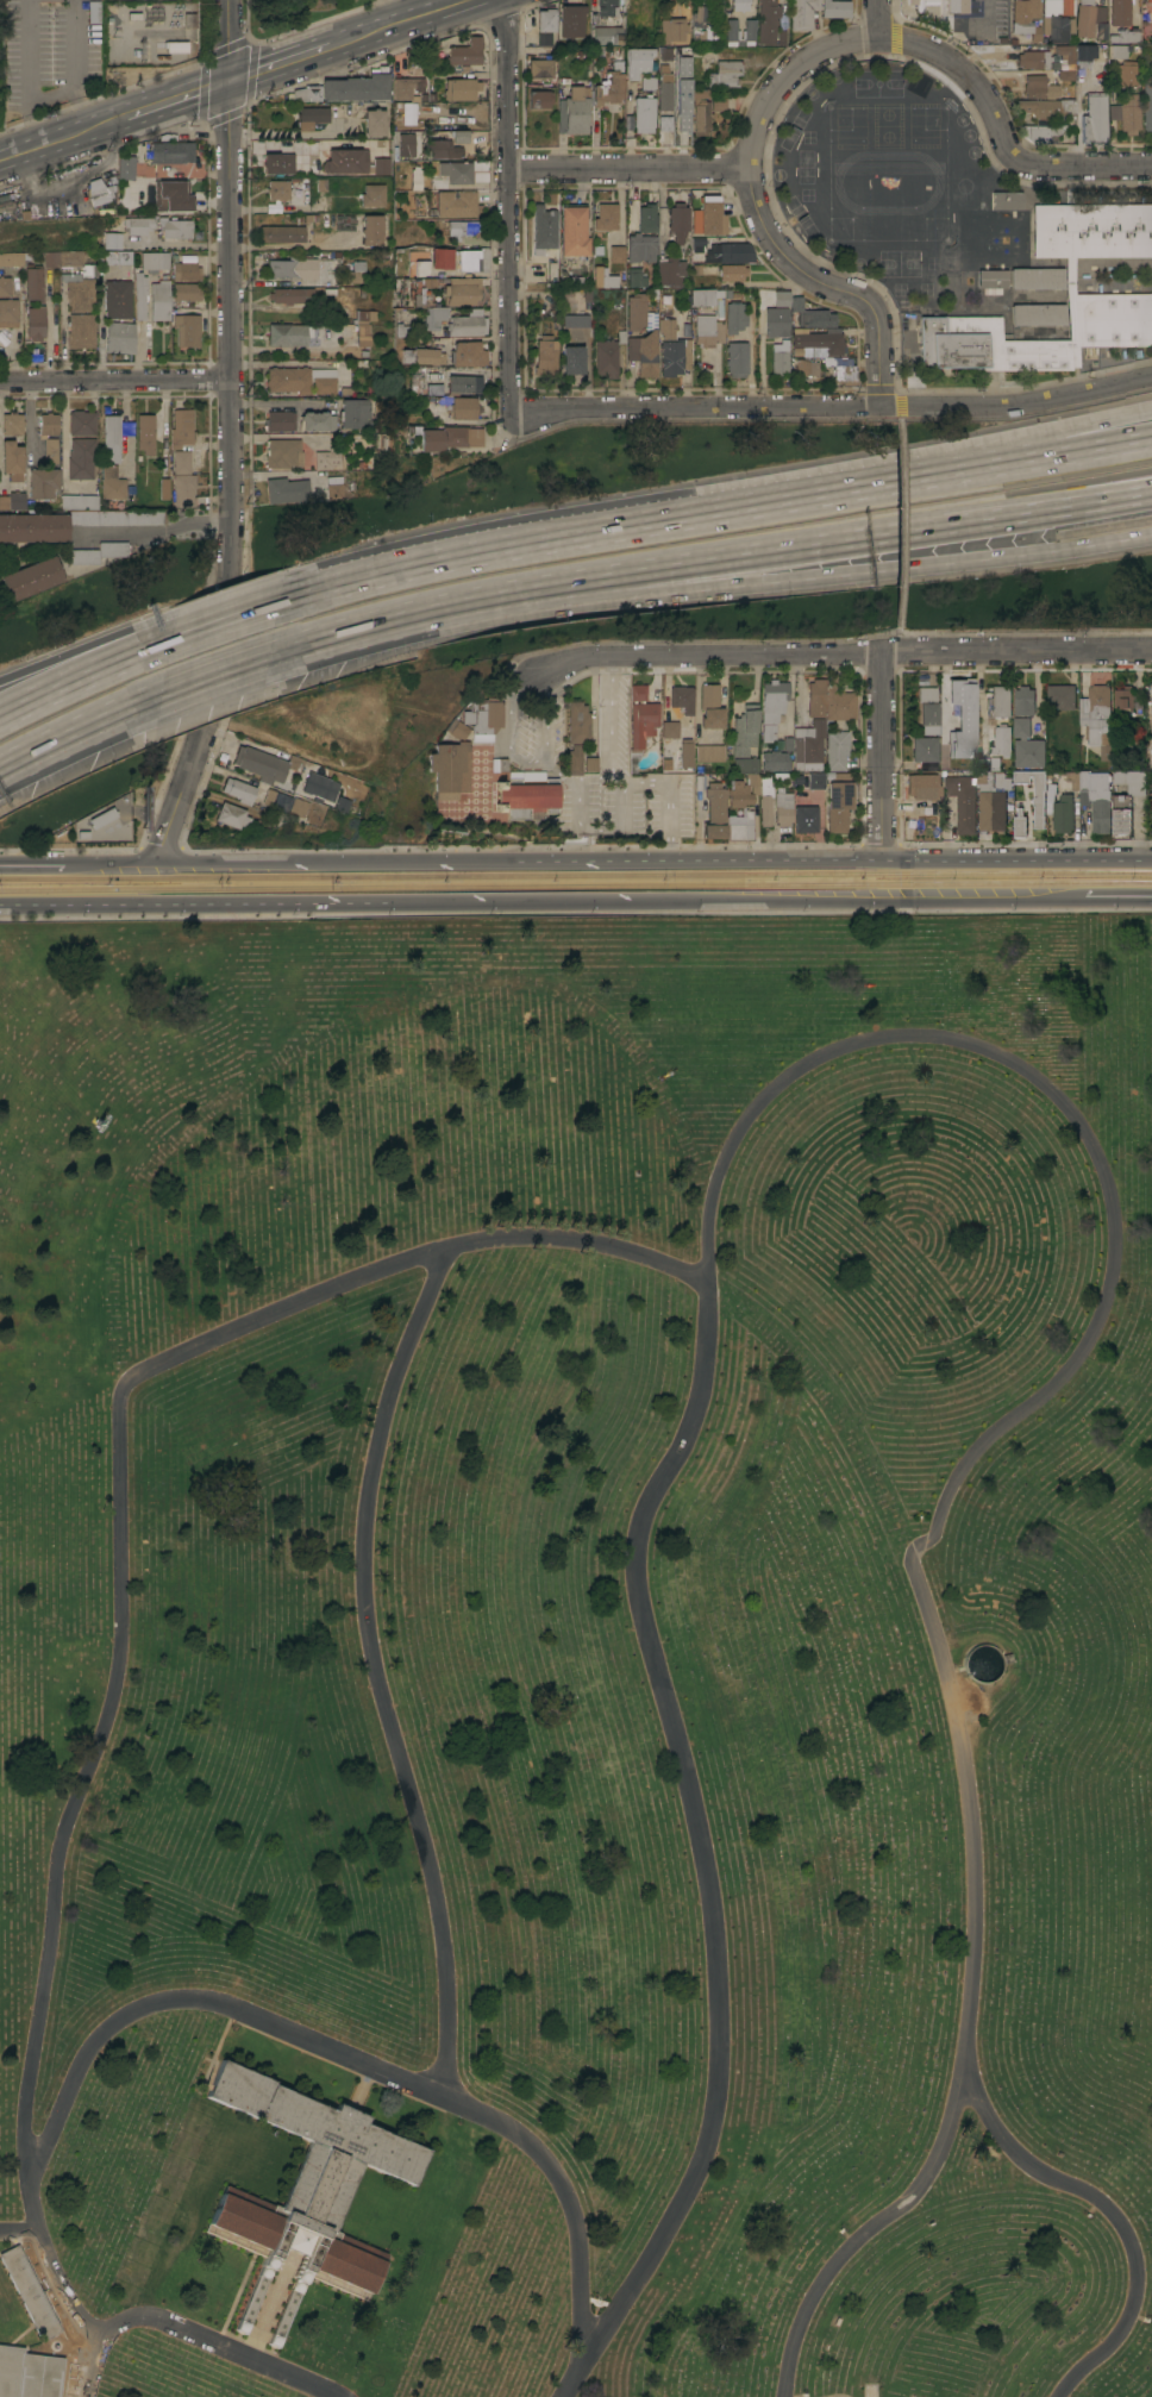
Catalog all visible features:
building: (910, 1)
building: (710, 2)
building: (738, 5)
building: (956, 6)
building: (1058, 6)
building: (834, 8)
building: (609, 10)
building: (1120, 12)
building: (801, 13)
park: (295, 14)
building: (1147, 14)
road: (878, 19)
building: (1025, 19)
building: (1090, 19)
road: (411, 20)
building: (571, 20)
building: (766, 20)
building: (544, 24)
building: (695, 24)
building: (1057, 27)
building: (730, 30)
building: (747, 30)
building: (671, 31)
building: (607, 36)
building: (1126, 36)
road: (230, 40)
building: (176, 46)
building: (1117, 50)
building: (465, 52)
building: (1084, 52)
building: (1064, 57)
building: (1035, 60)
road: (288, 61)
building: (636, 61)
road: (77, 65)
building: (540, 68)
building: (724, 74)
building: (1126, 74)
road: (25, 75)
building: (1065, 75)
traffic signals: (230, 81)
building: (646, 82)
building: (357, 85)
building: (609, 85)
building: (406, 88)
building: (461, 88)
building: (663, 92)
building: (680, 92)
building: (302, 94)
road: (181, 98)
building: (539, 99)
building: (1044, 99)
building: (1147, 107)
building: (705, 108)
building: (574, 112)
building: (1127, 113)
building: (643, 114)
building: (312, 117)
building: (1095, 118)
building: (375, 121)
building: (626, 123)
building: (663, 124)
road: (88, 130)
building: (1041, 131)
road: (294, 133)
road: (1001, 134)
building: (458, 136)
building: (1053, 139)
road: (298, 144)
building: (406, 144)
building: (443, 149)
building: (170, 151)
road: (23, 154)
building: (345, 162)
building: (277, 163)
building: (125, 167)
building: (382, 167)
building: (455, 171)
road: (732, 171)
building: (415, 177)
road: (71, 183)
building: (321, 184)
building: (278, 189)
building: (99, 190)
building: (374, 195)
building: (170, 196)
building: (1007, 200)
building: (456, 204)
road: (509, 204)
building: (606, 217)
building: (707, 217)
building: (647, 218)
building: (678, 221)
building: (345, 223)
building: (138, 225)
building: (175, 227)
building: (544, 227)
building: (372, 229)
building: (461, 229)
building: (574, 231)
building: (282, 233)
building: (978, 238)
building: (112, 239)
building: (1007, 242)
road: (293, 244)
building: (640, 246)
building: (722, 249)
building: (616, 254)
building: (12, 258)
building: (453, 258)
building: (154, 261)
building: (293, 268)
building: (186, 270)
building: (669, 271)
building: (732, 271)
building: (356, 273)
building: (1069, 275)
building: (603, 277)
building: (634, 277)
building: (1037, 278)
building: (993, 280)
building: (35, 282)
building: (118, 284)
building: (5, 286)
road: (827, 288)
building: (461, 290)
building: (139, 294)
building: (289, 294)
building: (77, 295)
building: (705, 296)
building: (781, 298)
building: (159, 300)
building: (796, 303)
building: (8, 309)
building: (637, 311)
building: (1037, 314)
building: (364, 315)
building: (431, 317)
building: (734, 317)
building: (815, 318)
building: (184, 319)
building: (576, 320)
building: (776, 321)
building: (35, 323)
building: (464, 324)
building: (705, 328)
building: (400, 330)
building: (716, 331)
building: (288, 334)
building: (362, 334)
building: (119, 337)
building: (818, 339)
building: (672, 348)
building: (644, 352)
building: (796, 352)
building: (465, 353)
building: (420, 356)
building: (545, 356)
building: (780, 357)
building: (606, 358)
building: (737, 358)
building: (572, 359)
building: (806, 367)
building: (844, 375)
building: (302, 380)
road: (117, 381)
building: (464, 382)
building: (422, 389)
road: (274, 401)
building: (458, 407)
road: (832, 408)
building: (356, 413)
road: (897, 418)
building: (281, 420)
building: (318, 421)
building: (12, 423)
building: (82, 423)
building: (182, 428)
building: (145, 433)
building: (43, 436)
building: (447, 437)
building: (112, 439)
building: (283, 452)
road: (1018, 452)
building: (81, 457)
building: (12, 459)
building: (323, 459)
road: (1018, 459)
building: (182, 478)
road: (234, 480)
building: (43, 482)
building: (112, 483)
building: (336, 487)
building: (287, 489)
building: (13, 500)
building: (80, 501)
road: (897, 513)
building: (117, 517)
road: (678, 518)
building: (35, 527)
road: (157, 530)
road: (764, 550)
building: (99, 552)
road: (377, 564)
building: (32, 577)
road: (372, 580)
road: (765, 581)
road: (228, 596)
road: (897, 624)
road: (220, 630)
road: (323, 642)
road: (87, 644)
road: (835, 656)
road: (212, 676)
road: (83, 690)
building: (1148, 691)
building: (636, 693)
building: (1060, 696)
building: (1150, 696)
building: (815, 697)
building: (680, 699)
building: (1125, 699)
building: (772, 700)
building: (1001, 700)
building: (1025, 700)
building: (838, 701)
building: (709, 706)
building: (928, 708)
building: (1150, 711)
building: (477, 718)
building: (1097, 718)
building: (575, 722)
building: (640, 722)
building: (1150, 725)
building: (1022, 727)
building: (451, 730)
building: (669, 730)
building: (744, 730)
building: (768, 732)
road: (79, 737)
building: (969, 737)
building: (1002, 740)
building: (809, 746)
building: (837, 749)
building: (925, 751)
building: (685, 752)
building: (708, 752)
building: (1029, 752)
road: (606, 755)
road: (882, 755)
building: (570, 759)
building: (775, 761)
road: (521, 762)
building: (1151, 762)
building: (265, 763)
building: (586, 764)
building: (746, 764)
building: (445, 769)
building: (816, 781)
building: (1000, 781)
road: (669, 782)
building: (320, 786)
building: (924, 786)
building: (240, 790)
building: (524, 795)
building: (1094, 795)
building: (990, 796)
building: (1126, 800)
building: (765, 801)
building: (1039, 801)
building: (287, 802)
building: (838, 805)
building: (737, 806)
building: (783, 807)
building: (966, 809)
building: (1060, 809)
building: (714, 811)
building: (233, 815)
building: (104, 816)
building: (806, 819)
road: (600, 830)
road: (1016, 858)
road: (516, 860)
road: (31, 864)
road: (107, 864)
railway: (576, 875)
railway: (575, 887)
road: (1091, 899)
road: (956, 900)
road: (587, 902)
road: (145, 906)
road: (951, 1038)
road: (121, 1569)
park: (576, 1658)
road: (378, 1673)
road: (349, 2058)
building: (307, 2186)
road: (1112, 2211)
road: (19, 2228)
building: (29, 2291)
road: (195, 2333)
building: (29, 2373)

